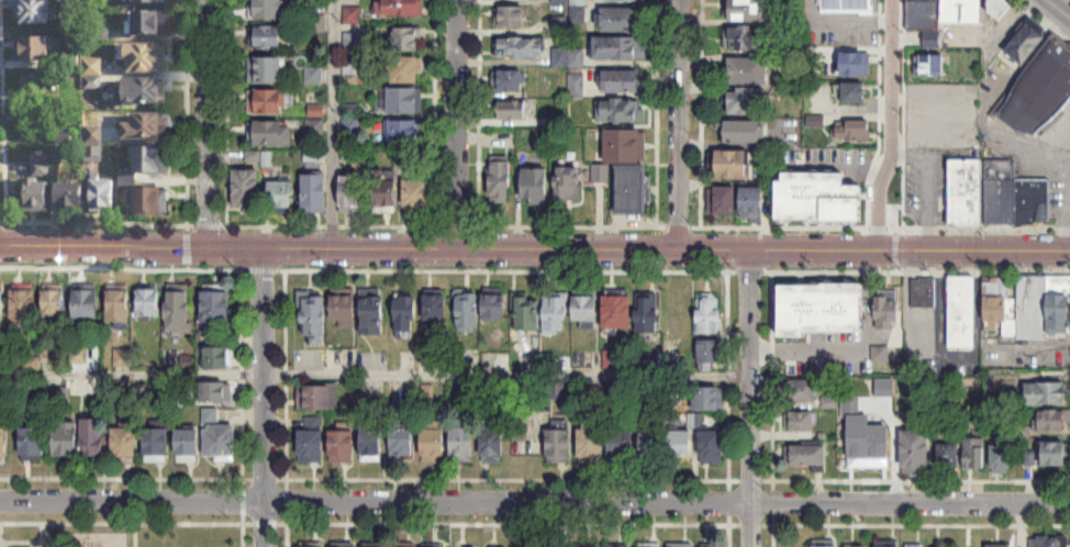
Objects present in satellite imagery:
building: (624, 0)
building: (145, 2)
building: (578, 2)
building: (847, 5)
building: (997, 7)
road: (1060, 7)
building: (403, 8)
building: (266, 10)
building: (745, 10)
building: (32, 12)
building: (961, 12)
building: (924, 14)
building: (510, 16)
building: (618, 20)
building: (147, 24)
building: (267, 36)
building: (747, 38)
building: (406, 40)
building: (517, 48)
building: (617, 48)
building: (32, 51)
building: (568, 58)
building: (143, 59)
building: (70, 62)
building: (856, 64)
building: (265, 70)
building: (406, 71)
building: (748, 71)
building: (91, 75)
building: (313, 76)
building: (508, 81)
building: (621, 81)
building: (38, 86)
building: (575, 87)
building: (1040, 90)
building: (137, 93)
building: (854, 93)
building: (404, 101)
building: (267, 102)
building: (747, 102)
building: (513, 110)
road: (477, 111)
building: (618, 111)
road: (656, 112)
road: (700, 112)
road: (879, 114)
road: (208, 124)
road: (330, 124)
building: (33, 125)
road: (455, 125)
road: (678, 125)
road: (891, 126)
building: (144, 130)
building: (851, 131)
building: (744, 132)
building: (403, 133)
building: (269, 134)
road: (929, 135)
road: (1054, 138)
road: (1014, 143)
building: (623, 146)
building: (254, 157)
building: (410, 157)
building: (149, 161)
building: (733, 165)
building: (600, 175)
building: (500, 182)
building: (568, 185)
building: (535, 186)
building: (386, 189)
building: (37, 191)
building: (246, 191)
building: (314, 192)
building: (352, 192)
building: (633, 192)
building: (966, 192)
building: (416, 194)
building: (69, 198)
building: (102, 198)
building: (281, 198)
building: (149, 202)
building: (723, 202)
building: (1000, 202)
building: (1034, 202)
building: (753, 203)
road: (671, 224)
road: (534, 252)
building: (923, 293)
building: (995, 301)
building: (148, 302)
building: (23, 305)
building: (54, 305)
building: (119, 305)
building: (86, 306)
building: (216, 306)
building: (494, 306)
building: (586, 306)
building: (1043, 306)
building: (435, 310)
building: (344, 311)
building: (0, 312)
building: (177, 312)
building: (961, 312)
building: (467, 313)
building: (617, 313)
building: (526, 314)
building: (648, 314)
building: (709, 314)
building: (405, 315)
building: (556, 315)
building: (372, 316)
building: (887, 319)
building: (315, 320)
building: (825, 328)
road: (855, 347)
building: (710, 356)
building: (216, 358)
road: (952, 361)
road: (375, 373)
building: (216, 392)
building: (802, 392)
building: (1048, 394)
building: (317, 397)
road: (264, 398)
building: (710, 399)
road: (750, 399)
building: (1054, 421)
building: (800, 423)
building: (219, 436)
building: (66, 439)
building: (93, 439)
building: (591, 439)
building: (3, 440)
building: (371, 442)
building: (402, 442)
building: (125, 443)
building: (32, 444)
building: (464, 444)
building: (157, 445)
building: (311, 445)
building: (434, 445)
building: (681, 445)
building: (188, 446)
building: (492, 446)
building: (559, 446)
building: (342, 447)
building: (622, 447)
building: (653, 447)
building: (712, 447)
building: (915, 451)
building: (1054, 454)
building: (974, 455)
building: (807, 456)
building: (852, 456)
building: (949, 457)
building: (1002, 459)
road: (143, 478)
road: (534, 503)
road: (243, 513)
road: (287, 513)
road: (143, 524)
road: (43, 528)
park: (144, 529)
road: (135, 535)
building: (1049, 542)
road: (21, 543)
road: (42, 543)
building: (650, 545)
building: (825, 545)
building: (1000, 546)

